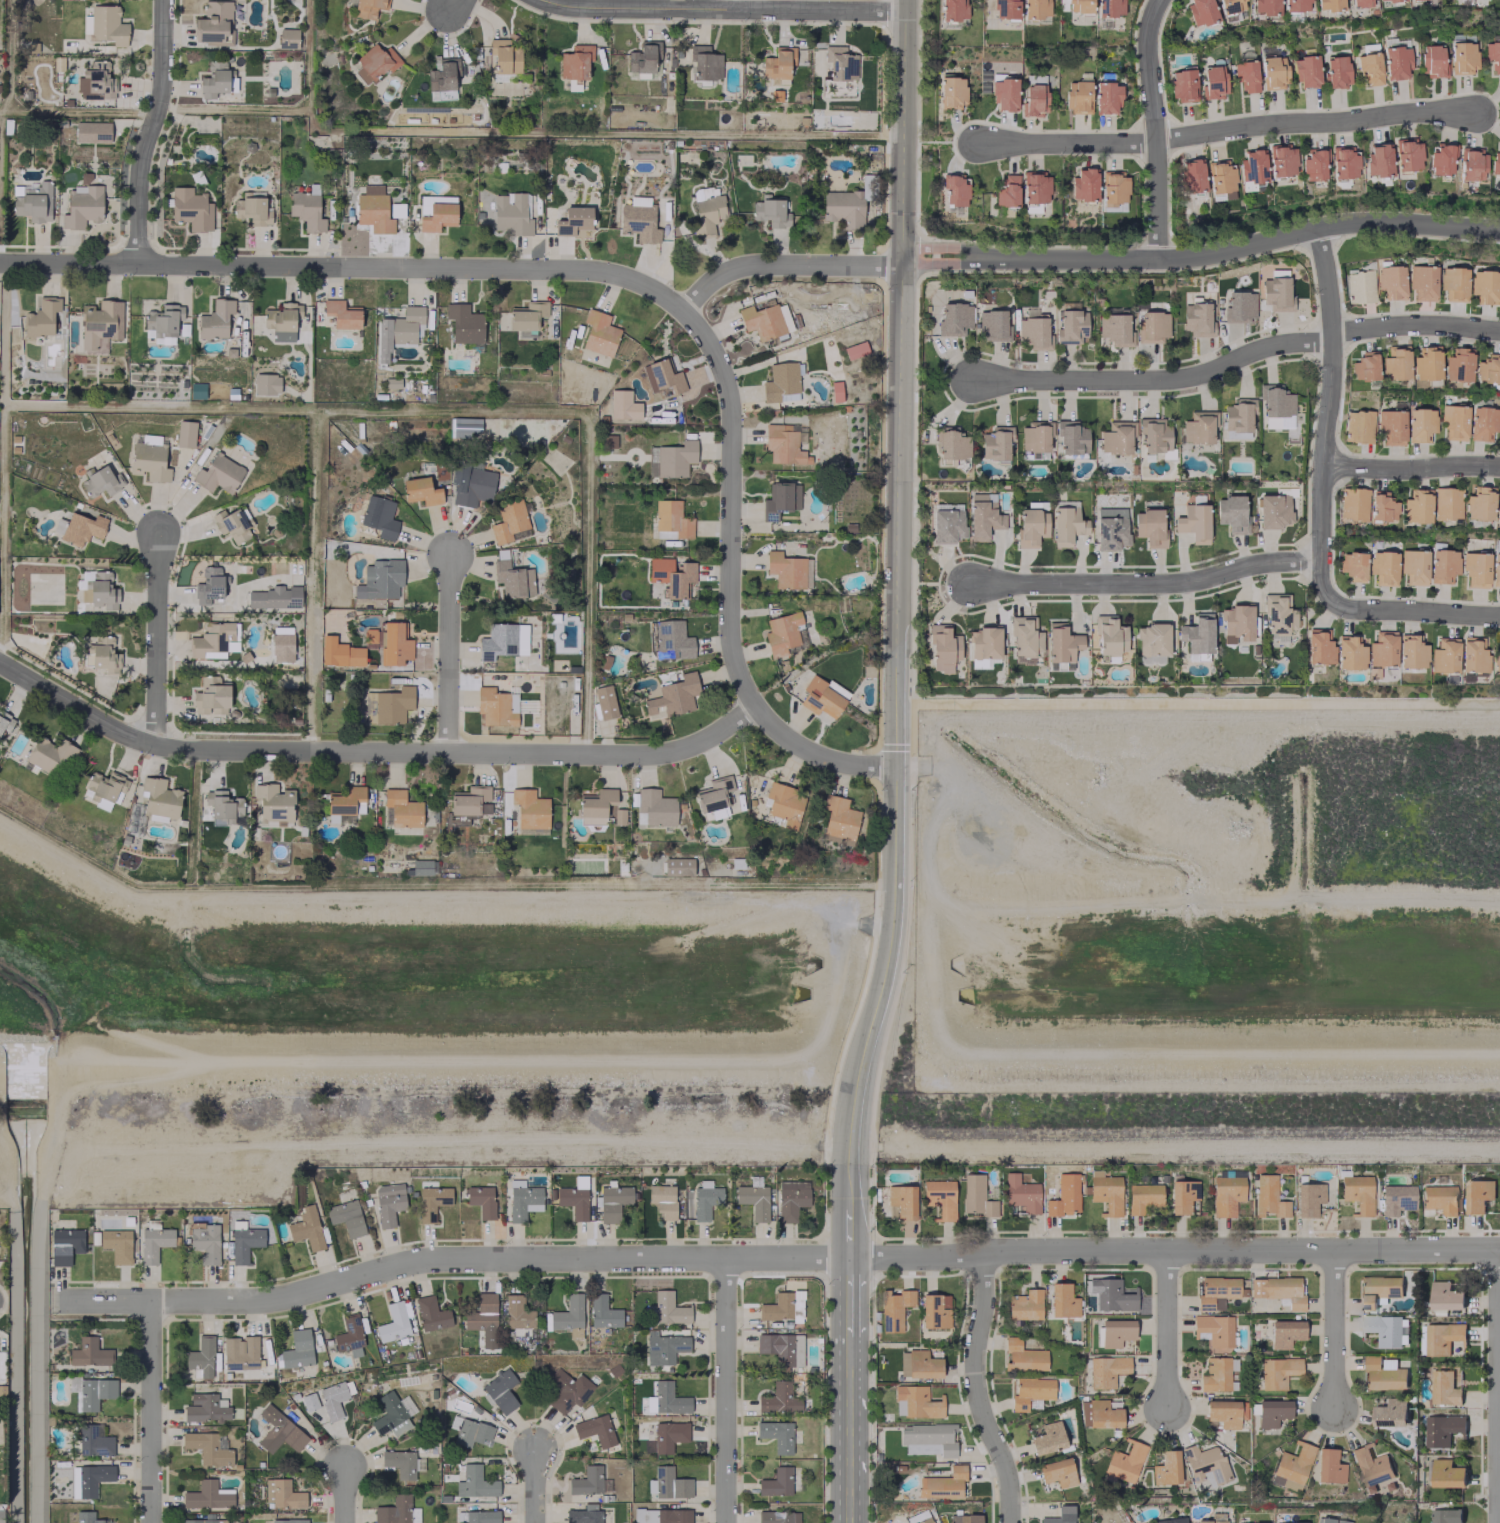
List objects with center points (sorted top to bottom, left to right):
building: (1382, 0)
building: (1360, 3)
road: (741, 4)
building: (1329, 4)
road: (452, 5)
building: (1230, 5)
building: (1296, 5)
building: (1079, 6)
building: (1265, 6)
building: (1109, 7)
building: (368, 8)
road: (720, 8)
building: (1035, 8)
building: (953, 9)
building: (1006, 9)
building: (1200, 11)
building: (107, 25)
building: (287, 38)
building: (1493, 55)
building: (504, 56)
building: (644, 57)
building: (1463, 57)
building: (1431, 60)
building: (574, 62)
building: (704, 62)
building: (1396, 62)
building: (374, 63)
building: (778, 63)
building: (839, 63)
building: (1369, 67)
building: (1306, 71)
building: (1336, 71)
building: (1273, 72)
building: (1246, 75)
building: (214, 79)
building: (442, 79)
building: (96, 82)
building: (1213, 82)
building: (1183, 84)
building: (951, 92)
building: (1004, 94)
building: (1078, 96)
building: (1106, 97)
road: (1157, 128)
road: (150, 130)
road: (1227, 130)
building: (91, 132)
building: (1407, 154)
building: (1377, 159)
building: (1440, 159)
building: (1282, 160)
building: (1496, 160)
building: (1344, 162)
building: (1312, 164)
building: (1469, 164)
building: (1252, 166)
building: (1191, 175)
building: (1220, 178)
building: (1083, 184)
building: (1035, 187)
building: (954, 190)
building: (1007, 191)
building: (1113, 191)
building: (34, 202)
building: (82, 205)
building: (190, 208)
building: (252, 208)
building: (373, 209)
building: (307, 211)
building: (436, 211)
building: (707, 211)
building: (770, 211)
building: (511, 213)
building: (638, 219)
building: (573, 220)
road: (1082, 257)
road: (345, 266)
building: (1391, 281)
building: (1423, 282)
building: (1453, 283)
building: (1359, 286)
building: (1484, 286)
building: (1275, 292)
building: (1240, 307)
building: (342, 313)
building: (41, 317)
building: (527, 317)
building: (954, 318)
building: (215, 319)
building: (1197, 319)
building: (163, 320)
building: (765, 320)
building: (281, 321)
building: (464, 323)
building: (992, 324)
building: (100, 325)
building: (404, 326)
building: (1152, 326)
building: (1113, 330)
building: (1033, 331)
building: (598, 333)
building: (855, 350)
road: (1238, 361)
building: (1395, 363)
building: (1426, 363)
building: (1457, 365)
building: (1365, 366)
building: (1488, 368)
building: (662, 376)
building: (781, 382)
building: (266, 383)
building: (197, 390)
building: (835, 391)
building: (1276, 406)
road: (1331, 414)
building: (1236, 420)
building: (1453, 421)
building: (1483, 422)
building: (1420, 424)
building: (1358, 425)
building: (463, 427)
building: (1391, 427)
building: (185, 433)
building: (1154, 435)
building: (1071, 436)
building: (1117, 437)
building: (785, 443)
building: (996, 443)
building: (950, 445)
building: (675, 458)
building: (149, 459)
road: (1414, 469)
building: (218, 474)
building: (99, 481)
building: (471, 486)
building: (421, 491)
building: (778, 501)
building: (1353, 503)
building: (1447, 503)
building: (1479, 504)
building: (1382, 506)
building: (1416, 506)
building: (1498, 507)
building: (1274, 510)
building: (1231, 513)
building: (379, 516)
building: (983, 516)
building: (672, 518)
building: (509, 522)
building: (1194, 522)
building: (231, 524)
building: (1067, 525)
building: (947, 526)
building: (1031, 526)
building: (1149, 527)
building: (82, 528)
building: (1111, 528)
building: (1353, 565)
building: (1443, 565)
building: (1414, 566)
building: (1383, 567)
building: (1495, 569)
building: (788, 570)
building: (1476, 570)
building: (672, 575)
building: (512, 576)
building: (382, 578)
road: (727, 582)
road: (1145, 584)
building: (99, 590)
building: (275, 597)
road: (895, 604)
road: (1416, 611)
building: (1278, 614)
building: (1236, 623)
building: (782, 632)
building: (1197, 633)
building: (1110, 635)
building: (1025, 636)
road: (156, 637)
building: (1152, 639)
building: (213, 640)
building: (503, 640)
building: (672, 640)
building: (984, 642)
building: (1061, 642)
building: (394, 644)
building: (944, 644)
building: (1319, 646)
building: (281, 647)
building: (1382, 648)
building: (1412, 651)
building: (340, 652)
road: (448, 652)
building: (1350, 652)
building: (1473, 654)
building: (1444, 655)
building: (104, 656)
building: (1496, 661)
building: (674, 695)
building: (211, 696)
building: (822, 696)
building: (604, 701)
building: (388, 705)
building: (5, 723)
road: (372, 751)
building: (49, 755)
building: (103, 788)
building: (713, 798)
building: (160, 799)
building: (470, 800)
building: (275, 803)
building: (345, 803)
building: (784, 803)
building: (222, 806)
building: (595, 806)
building: (655, 806)
building: (402, 808)
building: (529, 808)
building: (839, 821)
building: (678, 866)
building: (421, 867)
dam: (1217, 1047)
dam: (407, 1053)
building: (1106, 1192)
building: (1358, 1192)
building: (1020, 1193)
building: (1226, 1194)
building: (976, 1195)
building: (1064, 1195)
building: (1182, 1195)
building: (1477, 1195)
building: (1142, 1196)
building: (574, 1197)
building: (940, 1197)
building: (1268, 1197)
building: (791, 1198)
building: (1397, 1198)
building: (1439, 1198)
building: (481, 1200)
building: (523, 1200)
building: (662, 1200)
building: (753, 1200)
building: (902, 1200)
building: (1309, 1200)
building: (613, 1201)
building: (705, 1201)
building: (432, 1202)
building: (388, 1203)
building: (346, 1217)
building: (306, 1227)
road: (845, 1231)
building: (154, 1243)
building: (205, 1243)
building: (116, 1244)
building: (244, 1244)
building: (64, 1245)
road: (1172, 1251)
road: (448, 1256)
building: (1278, 1290)
building: (1378, 1290)
building: (1216, 1291)
building: (1111, 1294)
building: (1445, 1296)
road: (847, 1300)
building: (1062, 1300)
building: (1024, 1305)
building: (782, 1306)
building: (894, 1309)
building: (935, 1310)
building: (517, 1312)
building: (603, 1312)
building: (430, 1313)
building: (567, 1314)
building: (483, 1318)
building: (393, 1322)
building: (1213, 1329)
building: (1386, 1329)
road: (1166, 1330)
road: (1335, 1331)
building: (1115, 1332)
building: (1285, 1333)
building: (349, 1335)
building: (1441, 1337)
building: (663, 1347)
building: (781, 1348)
building: (297, 1349)
building: (88, 1352)
building: (239, 1353)
building: (1022, 1356)
building: (201, 1357)
building: (918, 1364)
road: (847, 1368)
building: (1107, 1370)
building: (1278, 1371)
building: (1217, 1373)
building: (1383, 1374)
building: (1445, 1386)
road: (723, 1389)
road: (976, 1389)
building: (567, 1390)
building: (500, 1391)
building: (1030, 1391)
building: (95, 1392)
building: (334, 1398)
building: (669, 1398)
building: (779, 1398)
building: (915, 1402)
building: (205, 1408)
road: (151, 1412)
building: (1272, 1412)
building: (1390, 1412)
building: (1222, 1413)
building: (392, 1414)
building: (1098, 1414)
building: (1441, 1429)
building: (595, 1430)
building: (279, 1431)
building: (469, 1431)
road: (1499, 1434)
building: (668, 1435)
building: (776, 1435)
building: (928, 1438)
building: (1047, 1438)
building: (93, 1440)
building: (208, 1448)
road: (846, 1459)
building: (1124, 1462)
building: (402, 1463)
building: (1205, 1464)
building: (1292, 1466)
building: (1329, 1466)
building: (1371, 1467)
building: (1166, 1468)
building: (1057, 1472)
building: (1445, 1473)
building: (88, 1479)
building: (589, 1481)
building: (475, 1482)
building: (776, 1482)
building: (667, 1483)
building: (942, 1483)
road: (535, 1485)
building: (281, 1493)
road: (346, 1494)
building: (207, 1495)
building: (396, 1511)
building: (584, 1514)
building: (1, 1515)
building: (661, 1515)
building: (1060, 1515)
building: (477, 1516)
building: (1444, 1516)
building: (88, 1517)
building: (777, 1517)
building: (964, 1518)
building: (203, 1519)
building: (289, 1520)
building: (924, 1520)
building: (1170, 1520)
building: (1332, 1520)
building: (1210, 1521)
building: (1258, 1522)
building: (1291, 1522)

